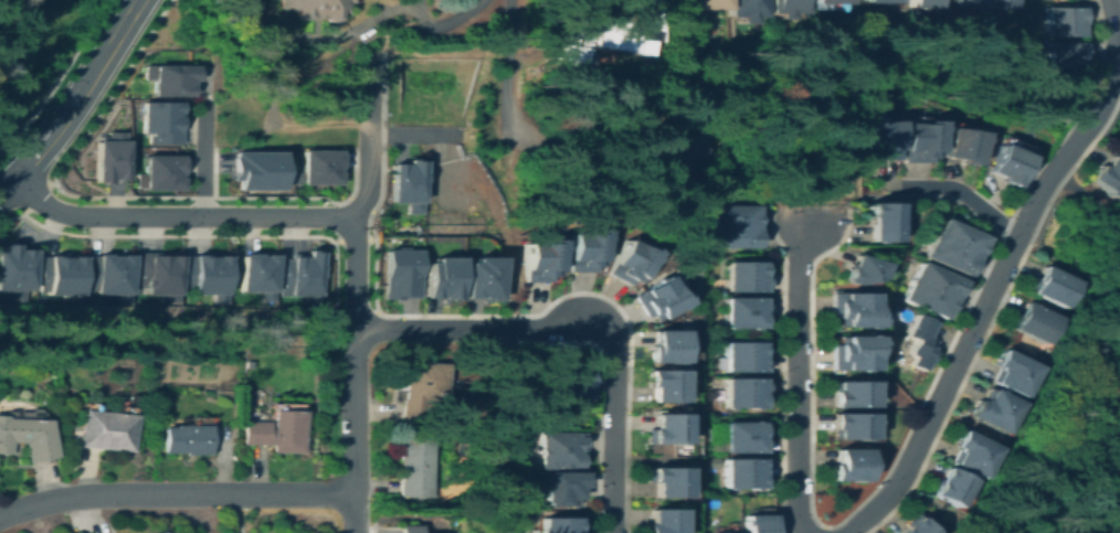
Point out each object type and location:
building: (836, 1)
building: (881, 1)
building: (706, 2)
building: (921, 3)
building: (963, 3)
building: (996, 3)
building: (315, 8)
building: (752, 8)
building: (792, 9)
road: (440, 21)
building: (1061, 21)
building: (628, 28)
building: (573, 44)
road: (1118, 50)
building: (1061, 54)
road: (509, 56)
building: (184, 76)
road: (55, 77)
road: (72, 97)
building: (162, 121)
road: (415, 137)
building: (878, 138)
building: (917, 139)
road: (369, 140)
building: (958, 146)
building: (678, 149)
building: (1112, 149)
road: (201, 158)
building: (112, 161)
building: (1005, 163)
building: (320, 168)
building: (257, 170)
building: (167, 173)
building: (1110, 175)
building: (405, 186)
road: (964, 194)
road: (115, 196)
road: (176, 215)
building: (876, 221)
building: (731, 226)
building: (951, 246)
building: (583, 250)
building: (539, 260)
building: (626, 263)
building: (863, 270)
building: (18, 271)
road: (353, 273)
road: (999, 273)
building: (261, 274)
building: (63, 275)
building: (398, 275)
building: (746, 275)
building: (113, 276)
building: (161, 276)
building: (304, 276)
building: (210, 277)
building: (441, 279)
building: (482, 279)
building: (1054, 286)
building: (930, 289)
building: (656, 299)
building: (847, 309)
road: (994, 310)
building: (746, 311)
building: (1036, 322)
road: (553, 329)
road: (435, 330)
building: (918, 343)
building: (663, 347)
building: (848, 353)
building: (746, 356)
building: (249, 363)
building: (1016, 372)
road: (797, 377)
building: (572, 381)
building: (664, 385)
building: (422, 390)
building: (746, 392)
building: (847, 394)
building: (997, 409)
road: (612, 424)
building: (847, 426)
building: (666, 429)
building: (107, 430)
road: (355, 430)
building: (277, 431)
building: (27, 437)
building: (746, 437)
building: (187, 439)
building: (560, 449)
building: (976, 455)
building: (664, 460)
building: (847, 466)
building: (414, 467)
building: (746, 473)
building: (666, 481)
building: (954, 487)
building: (562, 488)
road: (176, 492)
building: (663, 521)
building: (759, 523)
building: (561, 525)
building: (916, 525)
building: (410, 529)
building: (160, 532)
building: (719, 532)

